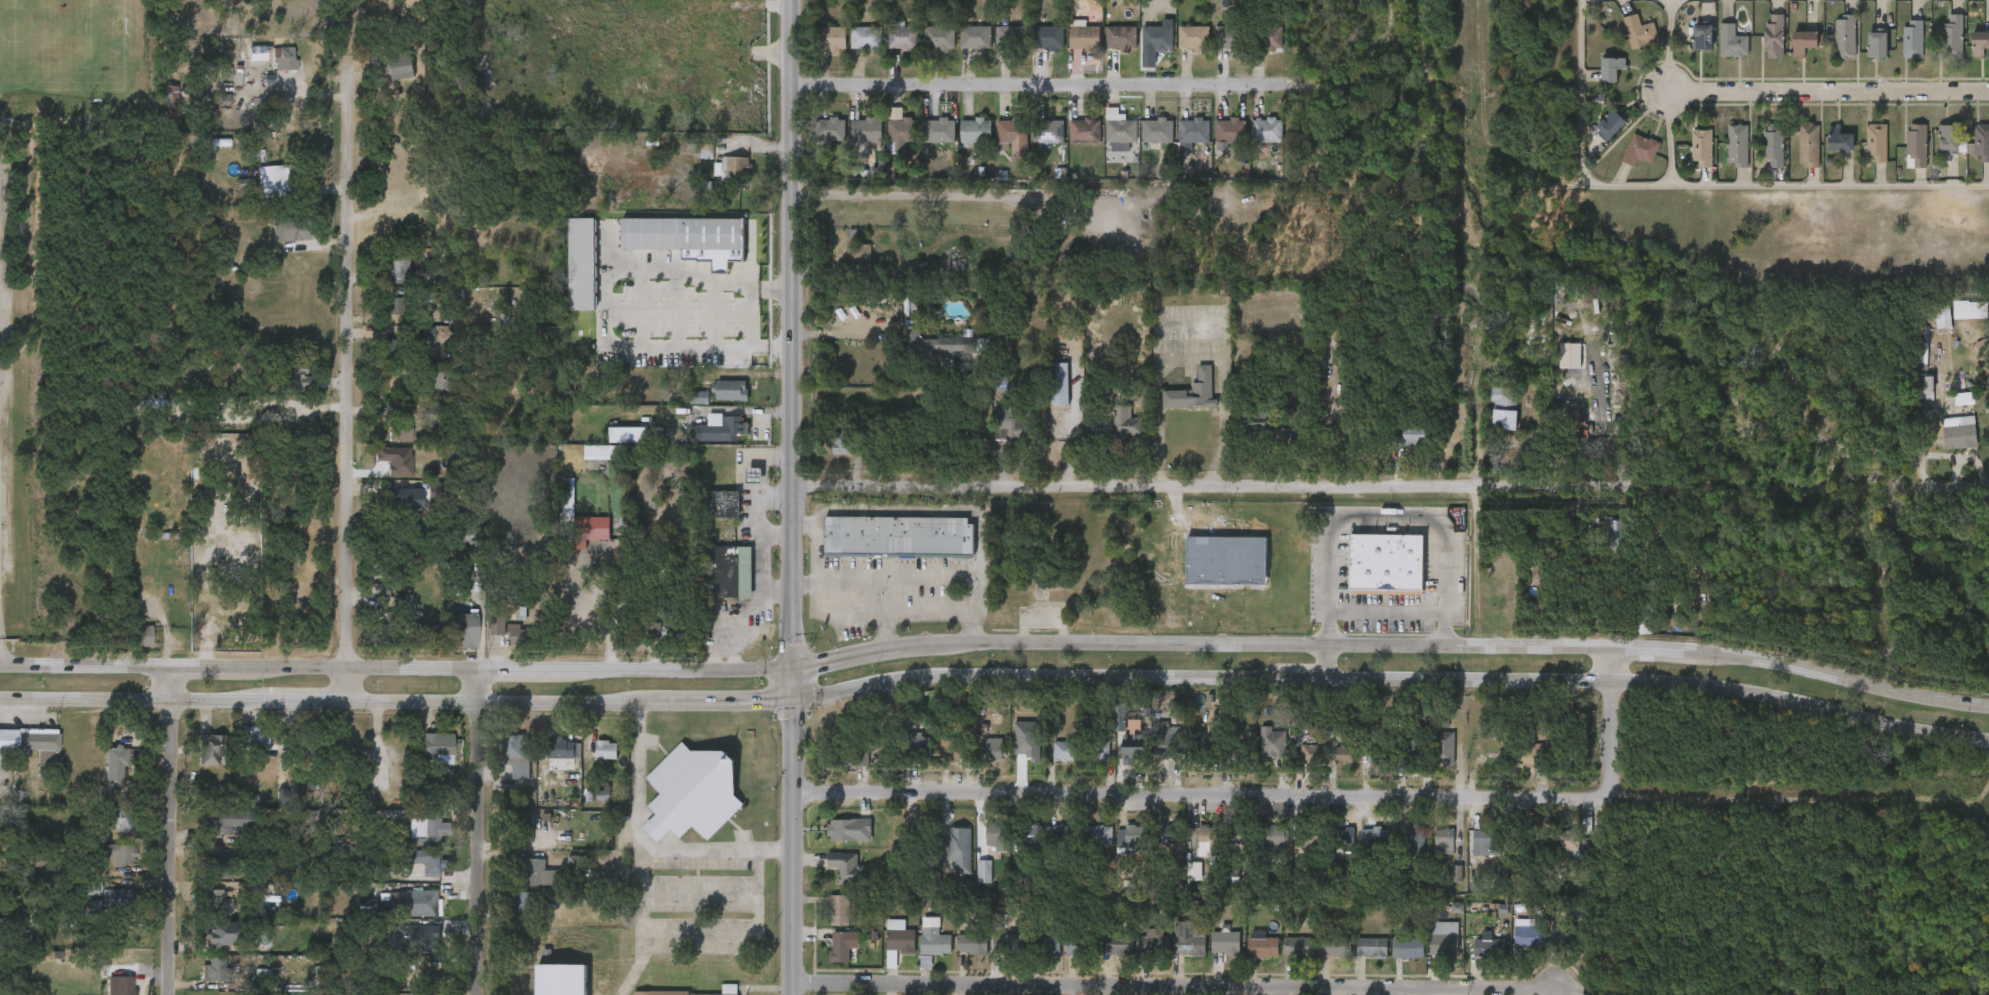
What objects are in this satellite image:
building: (1639, 31)
building: (1773, 35)
building: (1014, 36)
building: (1232, 36)
building: (1270, 36)
building: (1701, 36)
building: (1844, 36)
building: (1952, 36)
building: (833, 37)
building: (868, 37)
building: (904, 37)
building: (942, 37)
building: (978, 37)
building: (1050, 37)
building: (1086, 37)
building: (1123, 37)
building: (1159, 37)
building: (1195, 37)
building: (1912, 39)
building: (1732, 41)
building: (1802, 41)
building: (1978, 42)
park: (62, 44)
building: (1876, 44)
building: (257, 57)
building: (284, 59)
park: (76, 64)
building: (1610, 66)
building: (390, 69)
road: (1043, 86)
road: (1824, 91)
road: (1578, 100)
road: (1667, 100)
building: (169, 104)
road: (286, 107)
building: (896, 114)
building: (1607, 123)
building: (833, 128)
building: (868, 129)
building: (904, 129)
building: (941, 129)
building: (978, 129)
building: (1087, 129)
building: (1159, 129)
building: (1232, 129)
building: (1269, 129)
building: (1052, 130)
building: (1126, 130)
building: (1196, 130)
building: (1014, 131)
building: (1948, 138)
building: (1838, 140)
building: (1876, 142)
building: (1981, 142)
building: (1737, 145)
building: (1773, 145)
building: (1808, 145)
building: (1916, 145)
building: (1701, 147)
building: (1639, 148)
building: (701, 149)
building: (733, 168)
building: (276, 182)
building: (1192, 220)
building: (289, 230)
building: (683, 235)
building: (859, 258)
building: (948, 261)
building: (581, 265)
building: (395, 271)
road: (714, 283)
building: (392, 307)
building: (1970, 309)
building: (1943, 317)
road: (1192, 326)
building: (426, 331)
road: (838, 332)
building: (949, 346)
building: (394, 351)
building: (909, 351)
building: (1570, 356)
road: (353, 374)
building: (294, 377)
building: (438, 382)
building: (1057, 384)
building: (1926, 388)
building: (729, 391)
building: (1192, 392)
building: (1964, 399)
building: (697, 400)
building: (1502, 409)
building: (1015, 425)
building: (1120, 425)
building: (1252, 425)
building: (721, 431)
building: (398, 432)
building: (1412, 433)
building: (1960, 433)
building: (628, 435)
building: (841, 443)
building: (604, 453)
building: (395, 460)
road: (1238, 486)
road: (1966, 489)
road: (777, 495)
building: (401, 497)
road: (792, 497)
building: (419, 503)
building: (554, 509)
road: (763, 510)
road: (924, 511)
building: (389, 513)
building: (710, 517)
road: (1387, 518)
road: (778, 534)
building: (897, 537)
building: (586, 541)
building: (199, 544)
building: (1600, 544)
building: (400, 548)
building: (453, 549)
building: (1385, 563)
building: (729, 572)
road: (804, 582)
road: (891, 582)
building: (367, 603)
road: (1385, 612)
road: (740, 615)
road: (876, 617)
building: (505, 629)
building: (461, 632)
building: (136, 637)
building: (496, 643)
building: (653, 643)
building: (449, 644)
road: (995, 645)
building: (128, 648)
road: (1325, 663)
traffic signals: (792, 670)
road: (996, 678)
road: (355, 686)
traffic signals: (793, 701)
building: (1409, 723)
building: (254, 736)
building: (8, 740)
building: (1273, 740)
building: (437, 743)
building: (1166, 744)
building: (911, 746)
building: (562, 747)
building: (1443, 747)
building: (41, 748)
building: (212, 748)
building: (960, 748)
building: (994, 748)
building: (1132, 748)
building: (606, 749)
building: (1064, 749)
building: (1097, 750)
building: (241, 751)
building: (1200, 751)
building: (513, 752)
building: (847, 753)
building: (1311, 753)
building: (1376, 753)
building: (1410, 753)
building: (1184, 754)
building: (1342, 754)
building: (1572, 755)
building: (1119, 756)
building: (1150, 756)
building: (1258, 756)
building: (24, 757)
building: (424, 757)
building: (1399, 759)
building: (1431, 761)
building: (116, 762)
building: (551, 762)
building: (937, 762)
building: (980, 762)
building: (195, 763)
building: (593, 763)
building: (1086, 763)
building: (1050, 764)
building: (1218, 764)
building: (1297, 767)
building: (503, 768)
building: (1329, 768)
building: (1510, 771)
building: (839, 772)
building: (102, 780)
building: (301, 782)
building: (694, 793)
road: (1282, 799)
building: (589, 805)
building: (229, 819)
building: (118, 820)
building: (429, 825)
building: (297, 829)
building: (846, 829)
road: (178, 832)
building: (1238, 832)
building: (108, 833)
road: (480, 833)
building: (215, 834)
building: (993, 834)
building: (1030, 834)
building: (1100, 834)
building: (1064, 835)
building: (1165, 835)
building: (1311, 835)
building: (1344, 835)
building: (1136, 836)
building: (1273, 836)
building: (1375, 836)
building: (416, 837)
building: (1204, 838)
building: (1416, 838)
building: (1443, 839)
building: (1566, 840)
building: (834, 841)
building: (1486, 841)
building: (1528, 841)
building: (924, 843)
building: (958, 847)
building: (1018, 847)
building: (1153, 847)
building: (1046, 848)
building: (1086, 848)
road: (718, 849)
building: (1223, 849)
building: (982, 850)
building: (1121, 850)
building: (1262, 850)
building: (1331, 850)
building: (1359, 850)
road: (642, 851)
building: (1400, 852)
building: (119, 853)
building: (1192, 853)
building: (1553, 853)
building: (1294, 854)
building: (1429, 854)
building: (1470, 856)
building: (424, 859)
building: (946, 861)
building: (847, 865)
building: (106, 866)
building: (983, 870)
building: (539, 872)
building: (411, 874)
building: (561, 876)
building: (207, 879)
building: (833, 880)
building: (970, 884)
building: (1180, 884)
building: (524, 886)
building: (1442, 886)
road: (699, 894)
building: (120, 898)
building: (217, 901)
building: (417, 902)
building: (525, 902)
building: (838, 909)
building: (102, 910)
building: (204, 915)
building: (396, 916)
building: (511, 920)
building: (826, 922)
building: (225, 933)
building: (1566, 933)
building: (1528, 934)
building: (898, 935)
building: (1443, 938)
road: (742, 940)
building: (1225, 941)
building: (934, 942)
building: (971, 942)
building: (1169, 942)
building: (1007, 943)
building: (1114, 943)
building: (1079, 944)
building: (1262, 945)
building: (1298, 945)
building: (1334, 945)
building: (207, 946)
building: (843, 946)
building: (1372, 946)
building: (1489, 946)
building: (1045, 947)
building: (1408, 947)
building: (1549, 947)
building: (1515, 949)
building: (404, 951)
building: (920, 951)
building: (1429, 952)
building: (884, 954)
building: (993, 954)
building: (1140, 954)
building: (1212, 955)
building: (1036, 956)
building: (958, 957)
building: (828, 958)
building: (1103, 958)
building: (1474, 958)
building: (1062, 959)
building: (1285, 959)
building: (1248, 960)
building: (1321, 960)
building: (1358, 960)
building: (1394, 961)
building: (532, 967)
building: (219, 968)
building: (434, 974)
building: (319, 976)
building: (201, 981)
building: (422, 982)
building: (123, 985)
road: (1177, 986)
building: (107, 992)
building: (692, 992)

